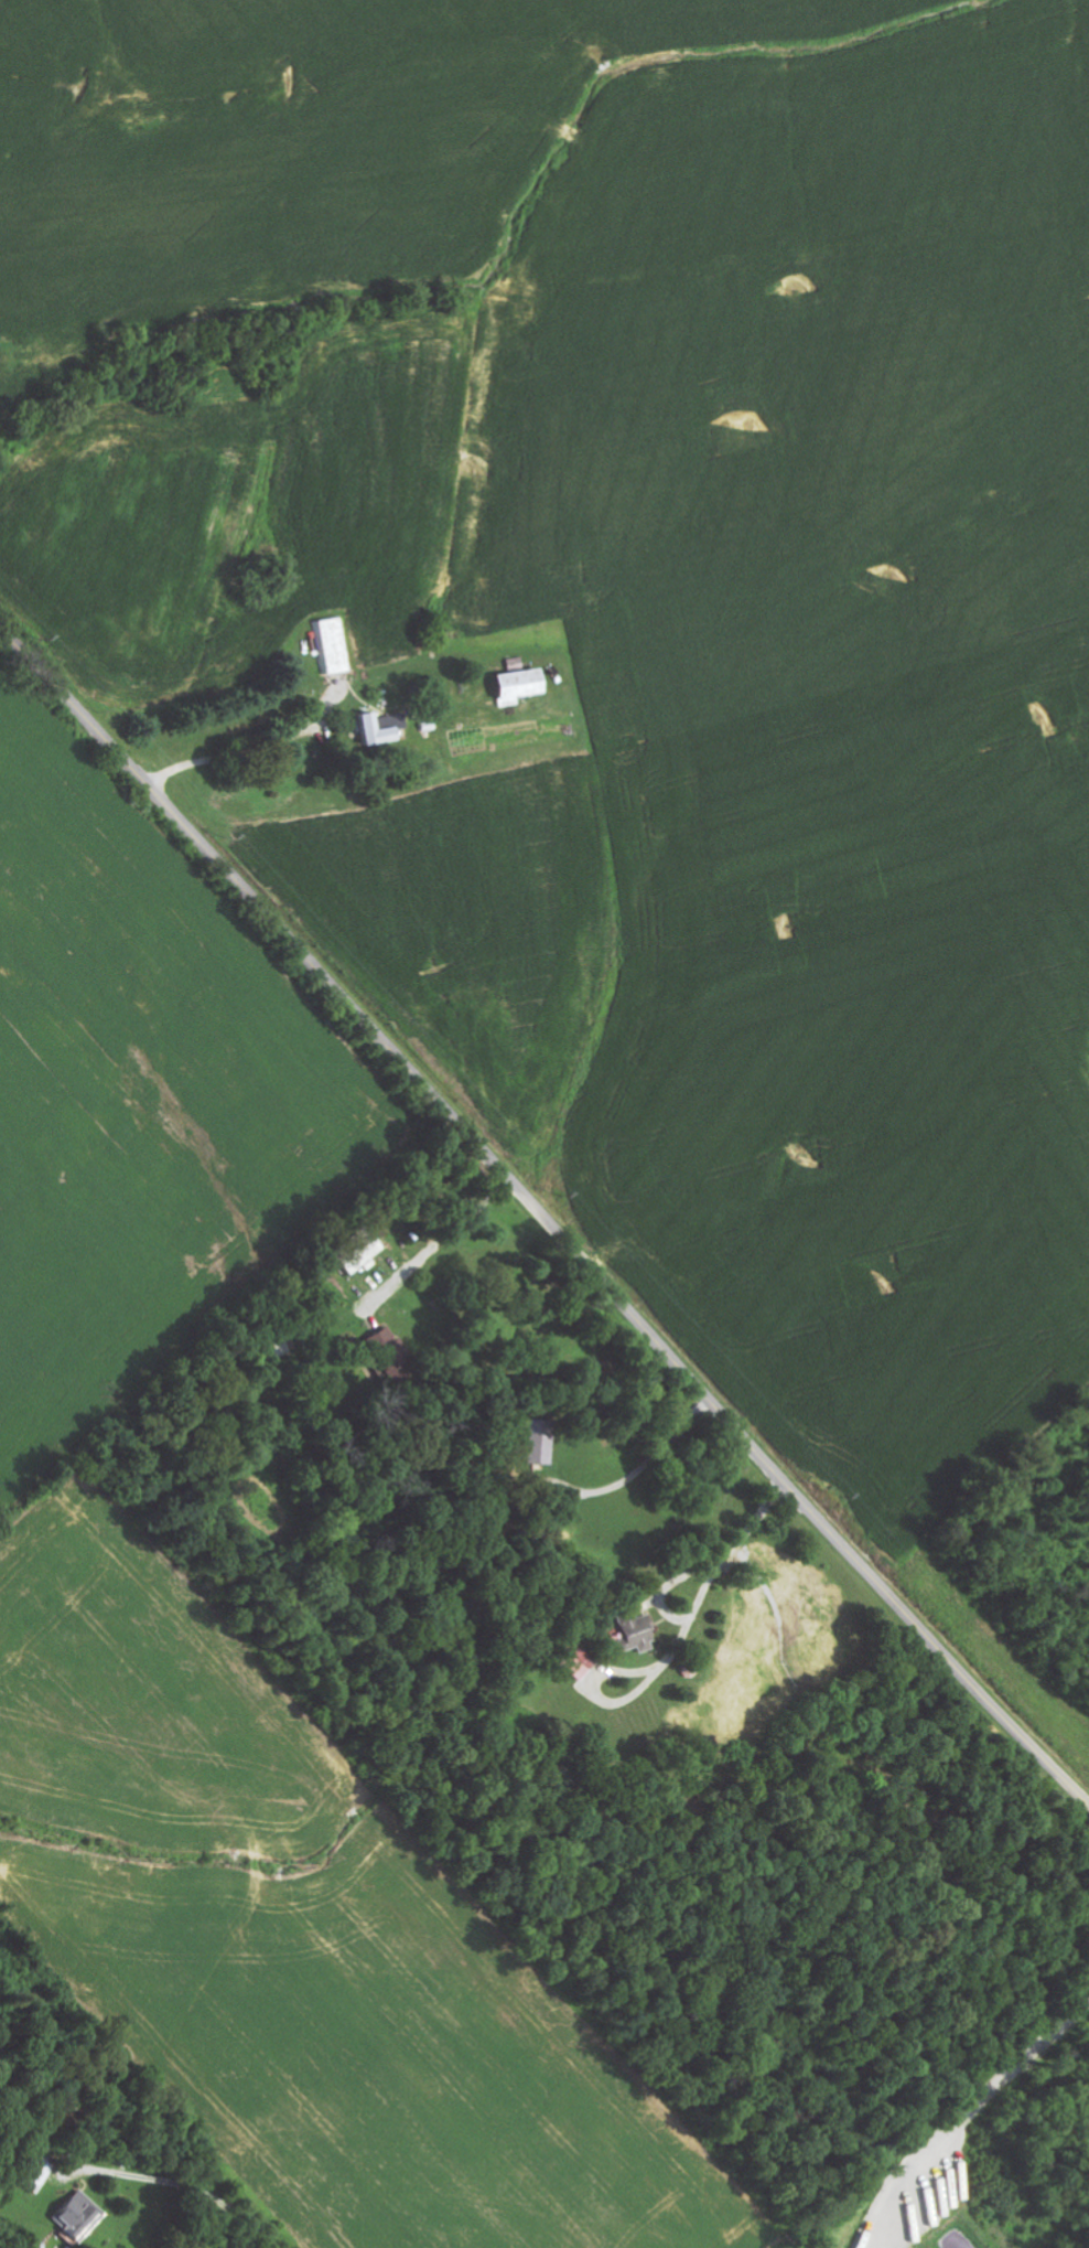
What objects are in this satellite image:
building: (334, 647)
building: (524, 687)
road: (543, 1217)
building: (364, 1257)
building: (540, 1441)
building: (638, 1633)
road: (896, 1969)
building: (82, 2216)

